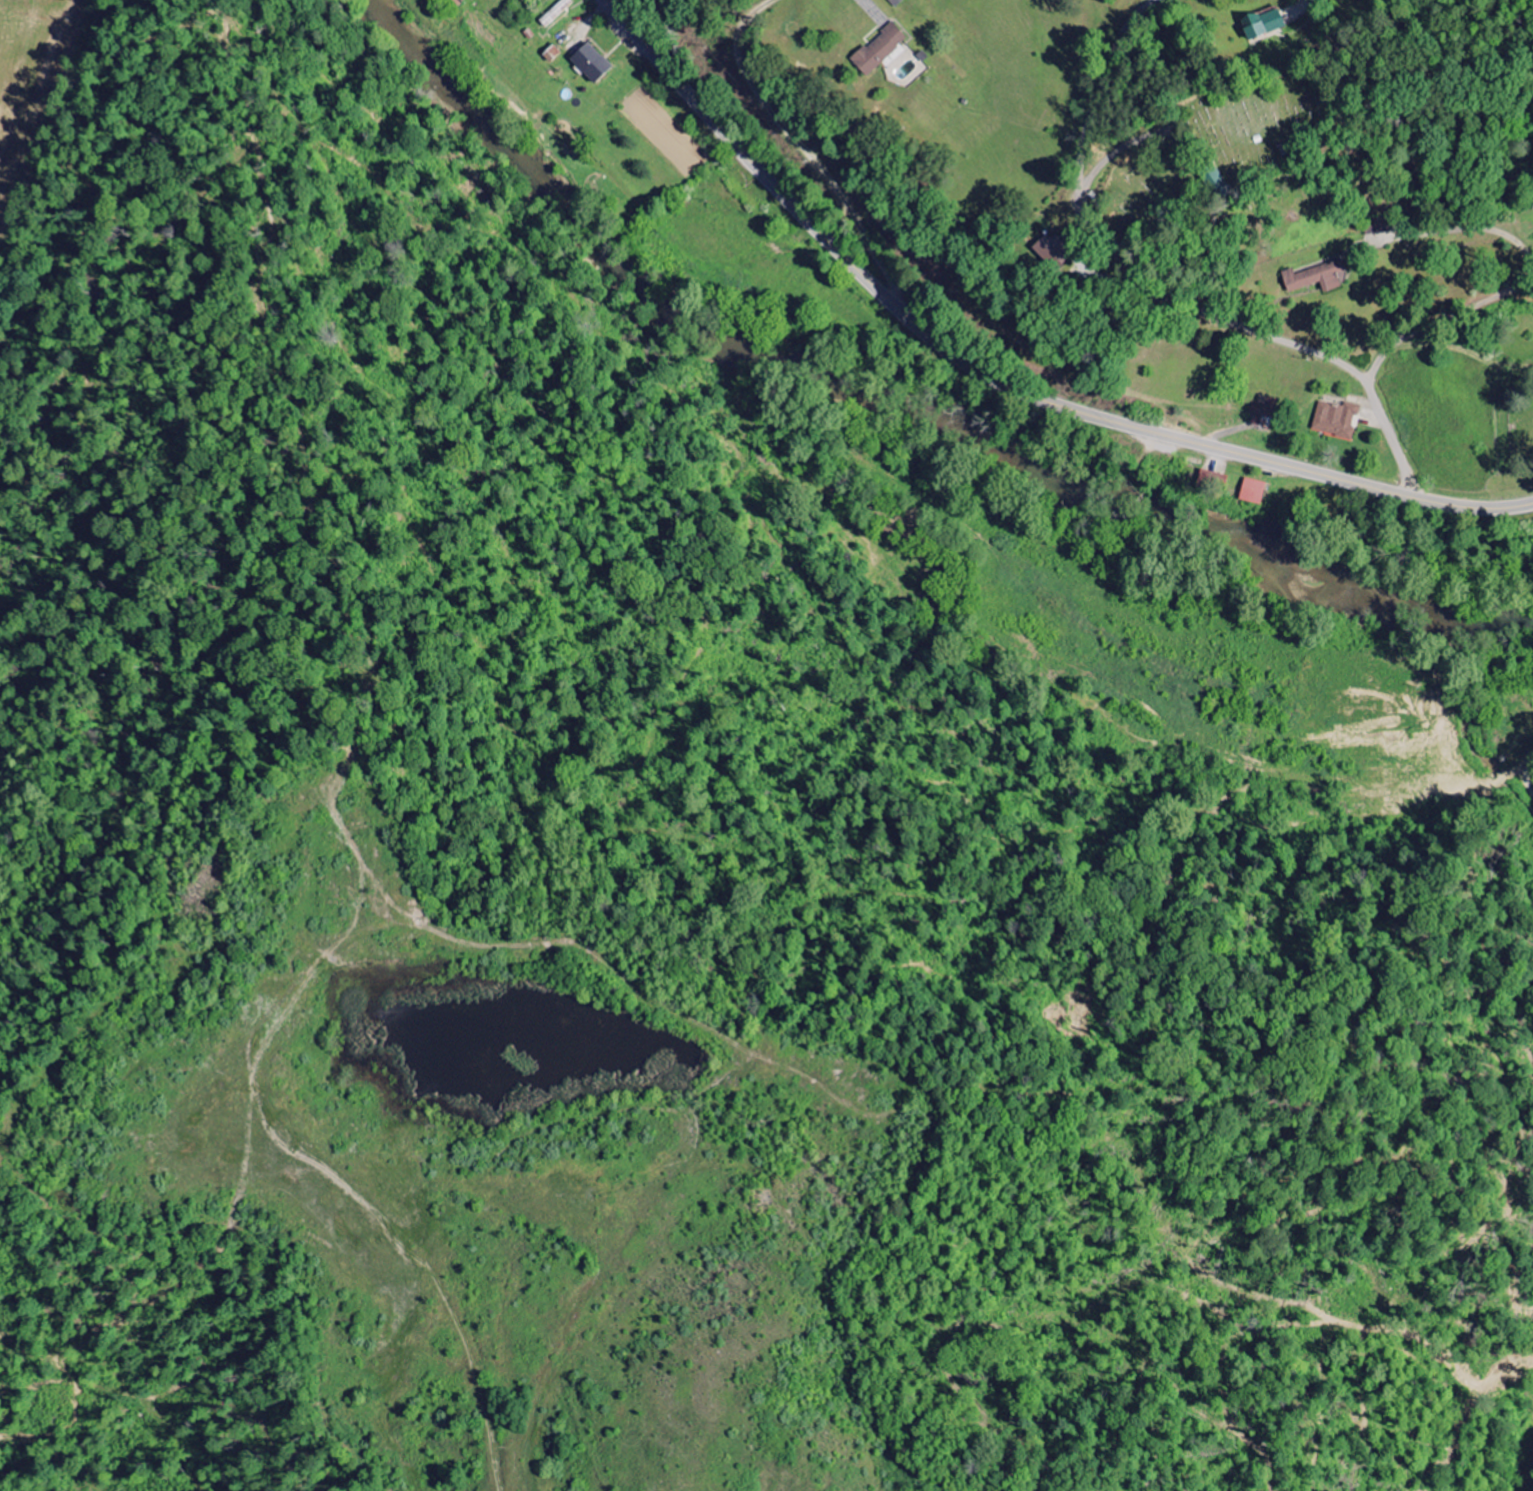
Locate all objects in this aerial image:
road: (610, 1)
building: (458, 2)
building: (896, 2)
building: (556, 12)
building: (1263, 24)
building: (880, 49)
building: (592, 63)
building: (1377, 226)
road: (1108, 244)
building: (1054, 250)
building: (1316, 278)
road: (1434, 310)
road: (1000, 381)
park: (1521, 399)
building: (1264, 412)
building: (1336, 420)
road: (1388, 428)
building: (1254, 492)
road: (1529, 779)

